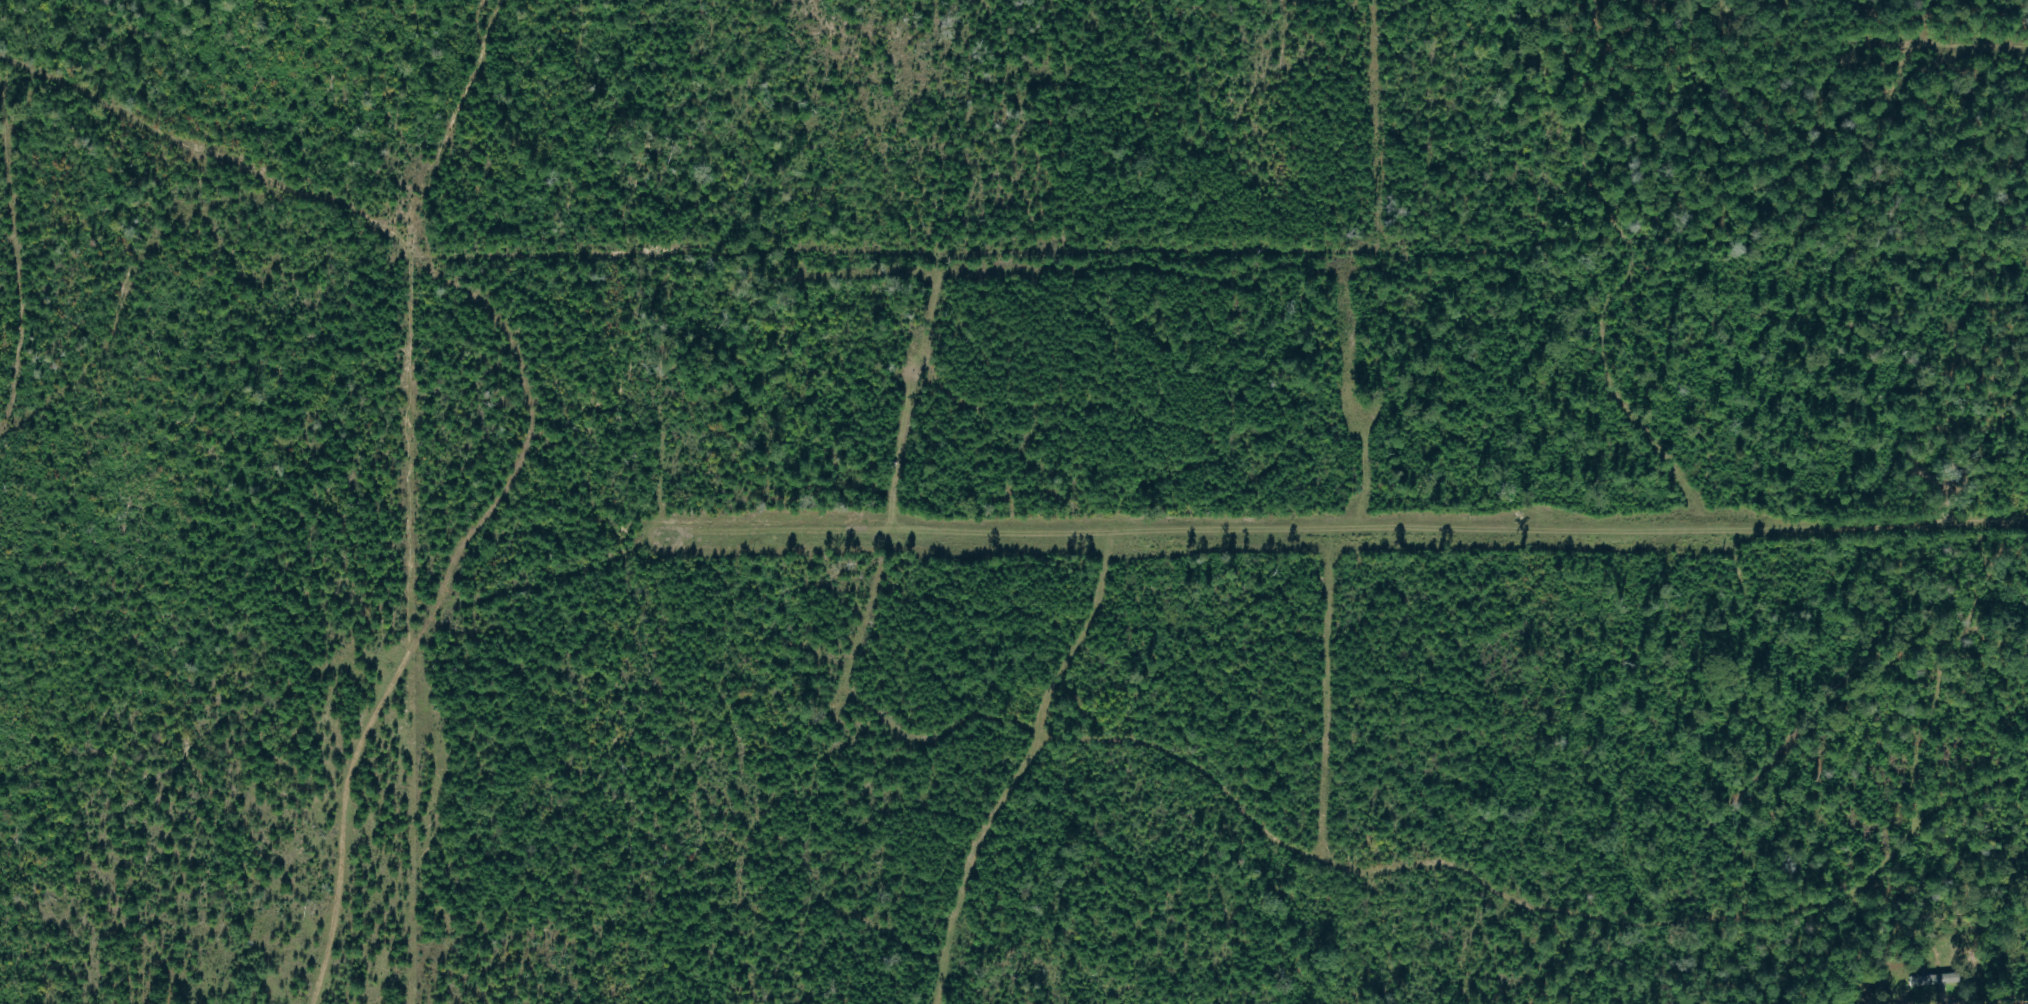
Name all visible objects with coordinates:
building: (1937, 980)

